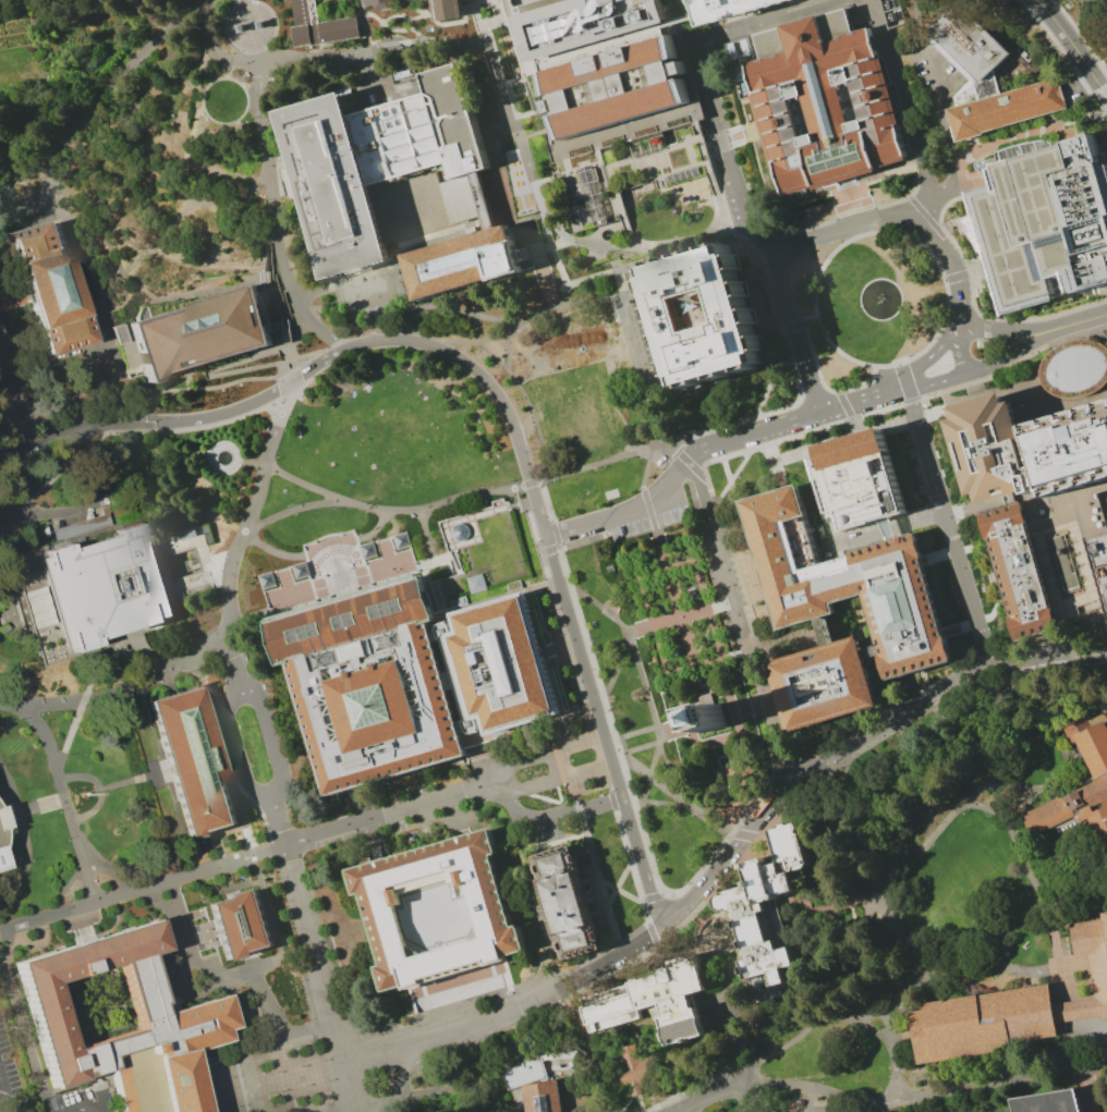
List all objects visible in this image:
building: (284, 0)
building: (379, 2)
road: (497, 3)
road: (498, 5)
road: (680, 7)
road: (474, 8)
road: (507, 9)
building: (730, 9)
building: (447, 10)
road: (403, 17)
road: (1104, 17)
road: (680, 21)
road: (762, 21)
road: (452, 22)
road: (478, 22)
road: (911, 23)
road: (483, 24)
building: (261, 25)
building: (319, 26)
road: (365, 26)
road: (252, 27)
building: (589, 27)
building: (242, 28)
road: (720, 28)
road: (897, 28)
road: (409, 29)
road: (253, 32)
road: (1080, 37)
road: (1074, 47)
road: (682, 50)
road: (511, 51)
road: (1063, 51)
road: (308, 59)
road: (231, 71)
road: (494, 71)
road: (537, 77)
building: (990, 77)
building: (620, 85)
road: (253, 99)
road: (903, 101)
road: (474, 102)
building: (823, 102)
road: (533, 105)
road: (136, 106)
road: (1103, 107)
road: (551, 114)
road: (695, 114)
road: (1086, 114)
road: (1103, 119)
road: (235, 120)
building: (454, 120)
road: (1051, 125)
road: (629, 131)
road: (755, 131)
road: (1030, 132)
road: (947, 135)
road: (1017, 135)
building: (397, 138)
road: (988, 146)
road: (521, 149)
road: (524, 151)
road: (706, 154)
road: (599, 155)
road: (645, 157)
road: (956, 157)
building: (636, 158)
road: (728, 158)
road: (568, 169)
road: (24, 170)
road: (488, 175)
road: (278, 176)
road: (496, 176)
road: (549, 178)
road: (56, 184)
road: (188, 184)
building: (332, 185)
road: (852, 198)
road: (619, 199)
building: (480, 200)
road: (236, 203)
road: (794, 203)
building: (421, 204)
road: (523, 204)
parking lot: (25, 205)
road: (500, 211)
road: (722, 211)
road: (848, 211)
road: (923, 212)
road: (540, 213)
road: (93, 215)
building: (1044, 217)
road: (591, 218)
road: (275, 220)
road: (477, 222)
road: (859, 222)
road: (973, 222)
road: (488, 223)
road: (433, 235)
road: (527, 235)
road: (755, 237)
road: (693, 241)
road: (586, 242)
road: (543, 248)
road: (790, 249)
road: (144, 250)
road: (532, 252)
road: (265, 253)
road: (400, 253)
road: (520, 255)
road: (655, 255)
building: (462, 261)
road: (616, 264)
road: (204, 266)
road: (131, 267)
road: (952, 267)
road: (767, 270)
road: (964, 274)
road: (637, 278)
road: (621, 279)
road: (950, 279)
road: (572, 282)
building: (49, 286)
road: (193, 291)
road: (315, 291)
road: (645, 291)
road: (1100, 291)
road: (629, 295)
road: (20, 296)
road: (287, 298)
fountain: (880, 302)
road: (988, 305)
road: (414, 306)
road: (269, 308)
road: (975, 309)
road: (276, 310)
road: (288, 313)
road: (616, 313)
road: (476, 314)
road: (968, 315)
building: (740, 316)
road: (268, 319)
road: (810, 319)
road: (802, 322)
road: (1074, 322)
road: (792, 325)
road: (1102, 327)
road: (270, 328)
road: (770, 329)
road: (999, 330)
road: (1106, 337)
building: (199, 338)
road: (342, 340)
road: (483, 342)
building: (983, 342)
road: (366, 344)
road: (1, 345)
road: (331, 345)
road: (812, 351)
road: (960, 352)
road: (1032, 352)
road: (1, 353)
road: (915, 355)
road: (1005, 355)
road: (308, 356)
road: (510, 356)
road: (930, 358)
road: (640, 366)
road: (223, 368)
building: (1073, 368)
road: (292, 370)
road: (669, 370)
road: (901, 375)
road: (649, 376)
road: (968, 376)
road: (1023, 377)
road: (15, 380)
road: (971, 381)
road: (820, 382)
road: (935, 382)
road: (811, 386)
road: (957, 387)
road: (798, 388)
road: (851, 388)
road: (666, 389)
road: (801, 389)
road: (187, 391)
road: (814, 392)
road: (930, 394)
road: (945, 396)
road: (1039, 398)
road: (862, 399)
road: (910, 401)
road: (527, 403)
road: (948, 404)
road: (14, 405)
road: (846, 405)
road: (504, 406)
road: (226, 414)
road: (754, 415)
road: (914, 419)
road: (824, 427)
road: (855, 427)
road: (45, 429)
road: (848, 438)
road: (61, 445)
road: (670, 447)
building: (989, 447)
road: (940, 448)
building: (1070, 452)
road: (196, 453)
road: (682, 456)
road: (726, 456)
road: (770, 459)
road: (253, 463)
road: (649, 467)
road: (680, 471)
road: (696, 471)
road: (224, 472)
road: (682, 476)
road: (730, 480)
building: (860, 480)
road: (196, 485)
road: (307, 485)
road: (523, 493)
road: (647, 493)
road: (93, 494)
road: (454, 500)
road: (545, 500)
road: (1042, 503)
road: (253, 508)
road: (537, 510)
road: (953, 514)
road: (654, 515)
road: (464, 520)
road: (945, 521)
parking lot: (652, 523)
road: (610, 526)
road: (377, 528)
road: (887, 528)
road: (885, 529)
street lamp: (342, 534)
road: (428, 535)
road: (478, 540)
street lamp: (317, 541)
road: (556, 541)
road: (332, 542)
road: (705, 542)
road: (563, 546)
road: (559, 547)
road: (1085, 548)
road: (275, 549)
road: (749, 550)
road: (977, 551)
road: (941, 554)
road: (729, 555)
building: (1099, 560)
street lamp: (416, 562)
building: (1015, 567)
street lamp: (352, 569)
road: (739, 569)
street lamp: (418, 570)
road: (459, 571)
road: (990, 575)
building: (1066, 575)
street lamp: (327, 576)
road: (341, 576)
building: (853, 579)
road: (362, 581)
road: (560, 582)
road: (700, 583)
street lamp: (373, 584)
building: (477, 584)
street lamp: (357, 588)
building: (96, 591)
street lamp: (332, 596)
street lamp: (317, 600)
road: (732, 602)
road: (994, 608)
road: (454, 609)
street lamp: (272, 615)
road: (688, 615)
road: (240, 618)
road: (740, 620)
road: (831, 627)
road: (823, 628)
road: (731, 630)
road: (1105, 632)
road: (702, 636)
road: (658, 639)
road: (585, 640)
road: (568, 646)
road: (563, 647)
road: (878, 649)
road: (1046, 660)
road: (696, 665)
building: (498, 669)
road: (619, 669)
road: (643, 674)
building: (830, 677)
road: (556, 681)
building: (373, 685)
road: (122, 687)
road: (207, 695)
road: (80, 700)
road: (708, 702)
road: (751, 708)
road: (575, 711)
road: (737, 712)
road: (908, 713)
building: (714, 718)
road: (887, 719)
road: (603, 731)
road: (1038, 733)
road: (631, 734)
road: (271, 736)
road: (635, 749)
road: (956, 753)
road: (584, 758)
road: (770, 760)
building: (1097, 760)
building: (195, 763)
road: (840, 763)
road: (978, 771)
road: (147, 774)
road: (153, 774)
road: (496, 779)
road: (732, 780)
road: (835, 780)
road: (117, 784)
road: (649, 784)
road: (1065, 785)
road: (557, 786)
road: (1068, 789)
road: (99, 790)
road: (798, 790)
flagpole: (88, 795)
road: (678, 795)
road: (759, 797)
road: (611, 799)
road: (555, 802)
road: (599, 802)
road: (63, 803)
road: (656, 803)
road: (1021, 807)
road: (987, 809)
road: (20, 811)
road: (1005, 811)
road: (244, 817)
road: (454, 819)
road: (528, 819)
road: (825, 822)
road: (1090, 822)
road: (1093, 831)
road: (743, 834)
road: (24, 835)
road: (929, 838)
building: (2, 843)
road: (846, 843)
road: (765, 844)
road: (278, 850)
road: (646, 850)
road: (770, 862)
road: (293, 865)
road: (1030, 869)
road: (874, 870)
road: (115, 875)
road: (624, 878)
road: (601, 881)
road: (778, 881)
road: (64, 885)
road: (1073, 885)
road: (662, 893)
road: (697, 894)
road: (631, 896)
road: (652, 896)
road: (643, 900)
road: (868, 900)
building: (573, 903)
road: (829, 905)
building: (765, 908)
road: (540, 909)
road: (644, 912)
road: (803, 913)
building: (491, 914)
building: (440, 917)
road: (269, 921)
building: (242, 924)
road: (679, 927)
road: (1055, 929)
road: (650, 932)
road: (668, 954)
building: (1094, 954)
road: (850, 955)
road: (853, 962)
road: (827, 963)
road: (623, 965)
road: (741, 967)
road: (209, 970)
road: (957, 970)
road: (864, 983)
road: (1069, 983)
road: (582, 985)
road: (573, 986)
road: (509, 987)
road: (543, 1000)
building: (657, 1001)
road: (733, 1006)
building: (1076, 1010)
road: (1080, 1010)
road: (887, 1014)
building: (185, 1019)
street lamp: (417, 1025)
building: (987, 1025)
road: (581, 1027)
road: (608, 1030)
road: (874, 1031)
road: (24, 1034)
road: (307, 1035)
road: (316, 1036)
road: (1092, 1036)
road: (434, 1037)
road: (634, 1038)
road: (742, 1040)
road: (588, 1043)
road: (782, 1047)
road: (231, 1052)
road: (892, 1056)
street lamp: (324, 1060)
road: (745, 1063)
street lamp: (300, 1065)
parking lot: (8, 1071)
building: (632, 1071)
road: (661, 1071)
street lamp: (276, 1072)
street lamp: (329, 1080)
road: (597, 1082)
road: (1006, 1082)
road: (0, 1085)
street lamp: (304, 1085)
building: (534, 1086)
road: (696, 1087)
street lamp: (281, 1089)
road: (1091, 1089)
road: (825, 1091)
road: (747, 1092)
road: (714, 1093)
road: (403, 1097)
parking lot: (71, 1098)
road: (808, 1100)
building: (1050, 1102)
road: (842, 1110)
road: (350, 1111)

